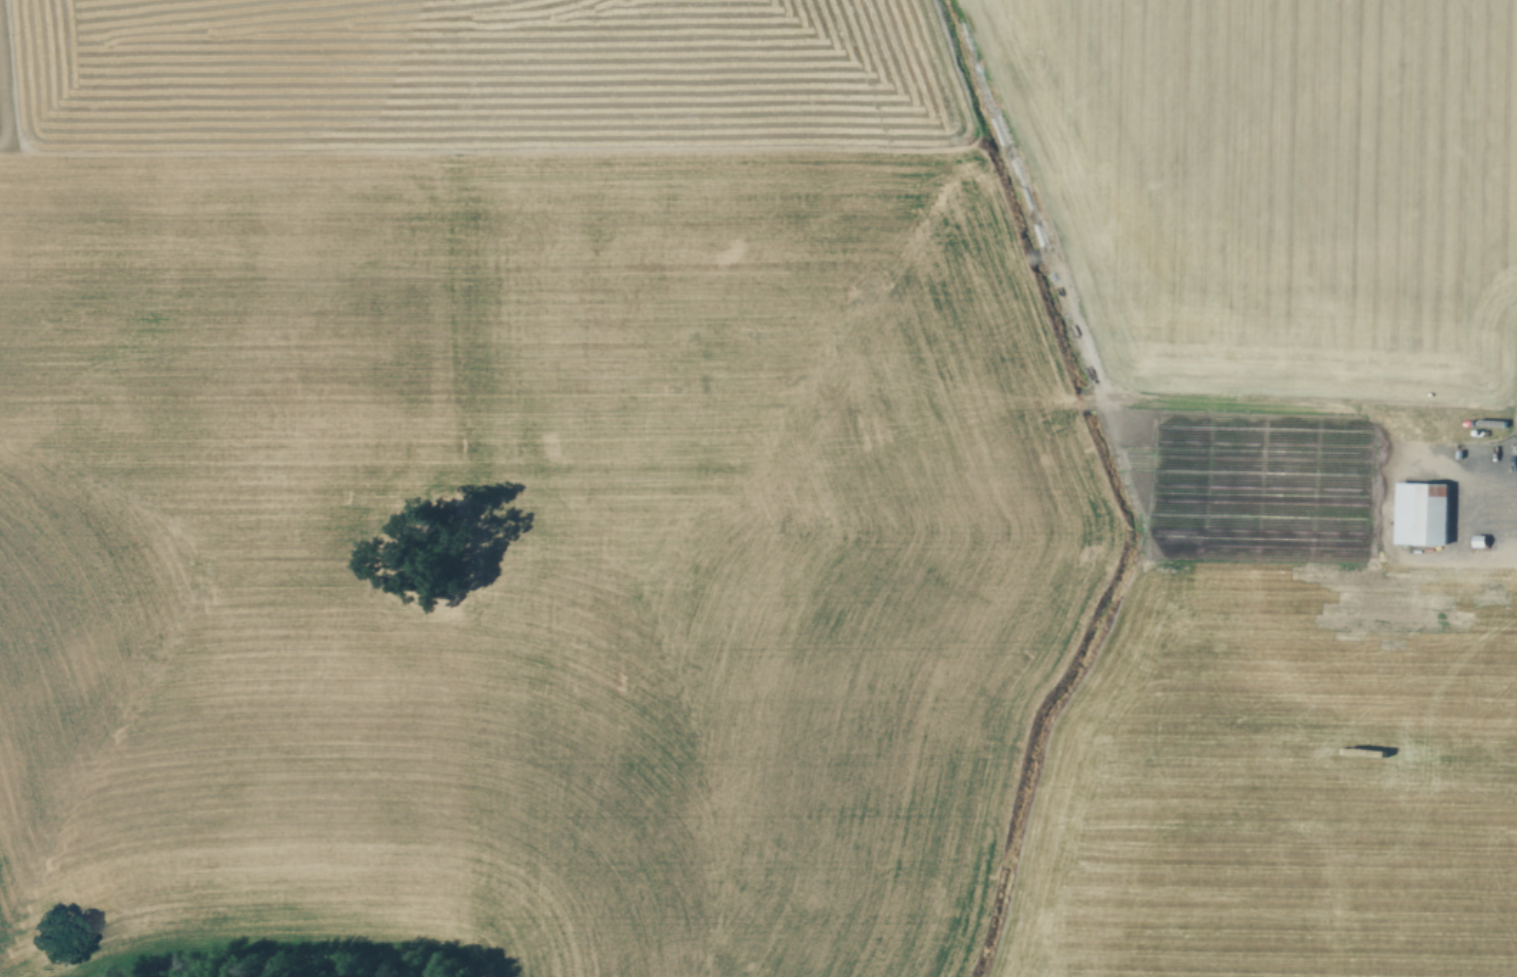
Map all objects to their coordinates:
road: (454, 333)
road: (1127, 382)
road: (1419, 395)
crop: (758, 488)
building: (1424, 513)
building: (1482, 542)

